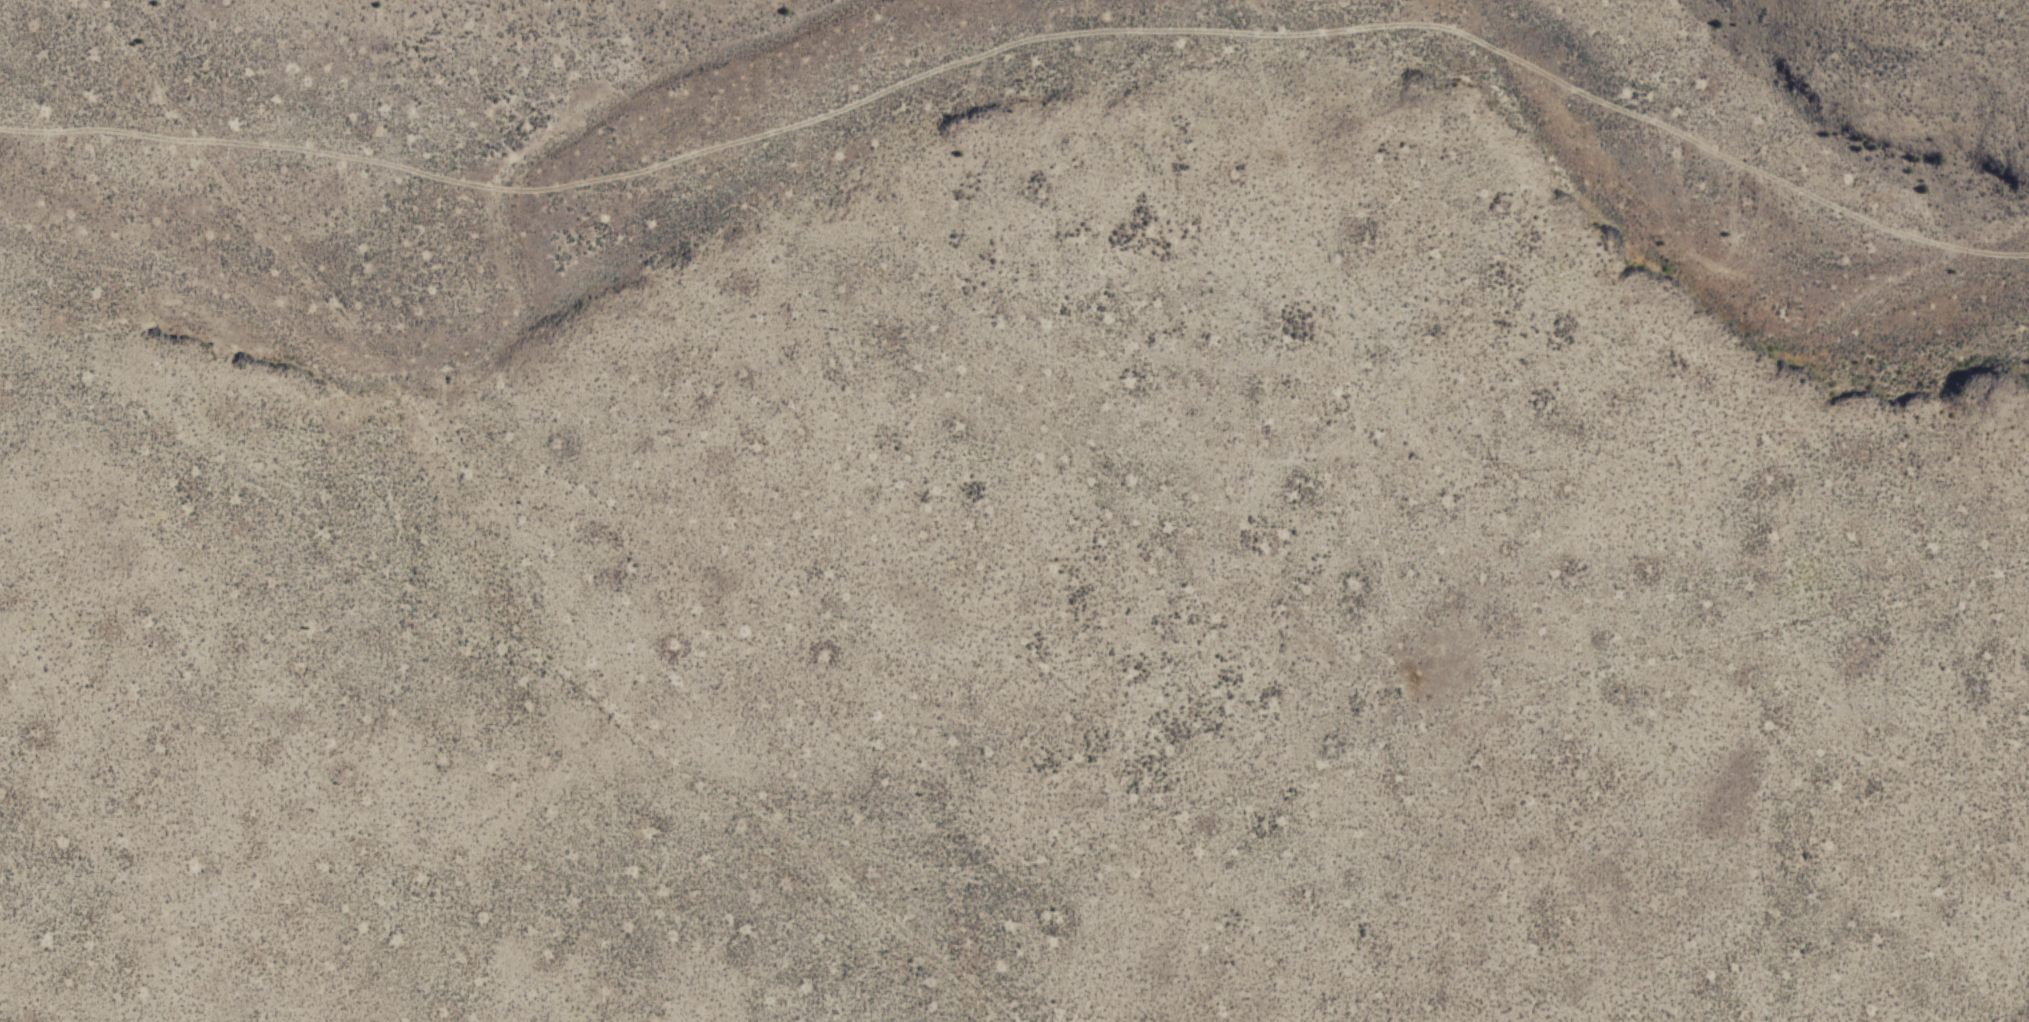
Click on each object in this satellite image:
road: (1022, 47)

